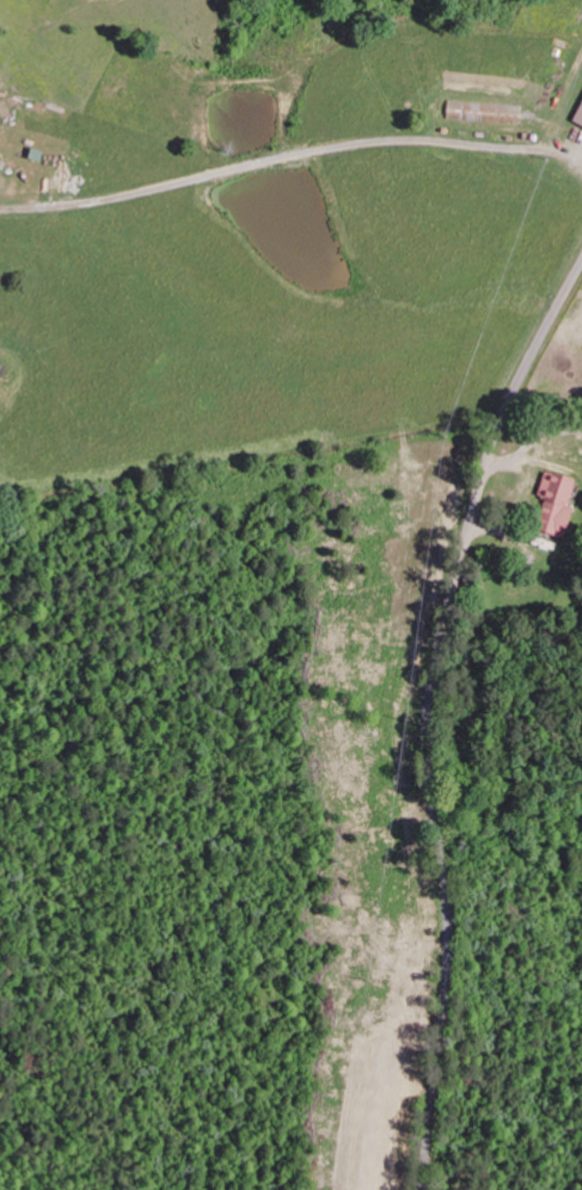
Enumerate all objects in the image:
building: (578, 119)
road: (290, 157)
building: (552, 507)
road: (430, 717)

